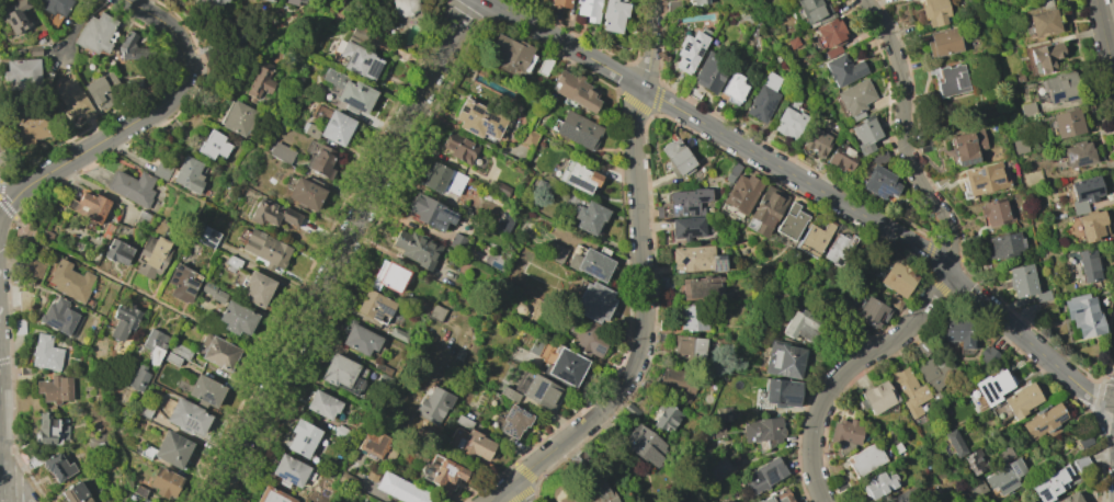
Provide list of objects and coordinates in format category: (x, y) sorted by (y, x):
building: (271, 0)
building: (302, 0)
building: (356, 0)
building: (902, 0)
building: (291, 1)
building: (697, 2)
building: (560, 3)
building: (208, 4)
building: (54, 5)
building: (403, 8)
building: (589, 10)
building: (814, 10)
building: (934, 12)
building: (613, 14)
building: (16, 15)
building: (1043, 22)
road: (78, 28)
building: (95, 33)
building: (828, 33)
road: (1088, 33)
road: (1103, 38)
building: (943, 42)
building: (793, 43)
rooftop solar panel: (695, 44)
road: (1089, 44)
rooftop solar panel: (683, 47)
building: (132, 48)
building: (32, 50)
building: (689, 52)
building: (832, 52)
rooftop solar panel: (698, 53)
building: (508, 54)
building: (1045, 56)
rooftop solar panel: (353, 58)
rooftop solar panel: (682, 58)
building: (359, 60)
rooftop solar panel: (366, 62)
building: (543, 66)
rooftop solar panel: (685, 67)
building: (843, 69)
rooftop solar panel: (374, 70)
building: (22, 71)
building: (711, 71)
building: (952, 80)
road: (1113, 80)
building: (260, 81)
building: (1060, 88)
building: (732, 89)
building: (101, 90)
building: (576, 90)
building: (349, 91)
road: (172, 95)
rooftop solar panel: (1054, 95)
road: (1102, 96)
building: (763, 98)
rooftop solar panel: (1070, 98)
building: (855, 99)
road: (1090, 100)
building: (72, 101)
rooftop solar panel: (351, 103)
rooftop solar panel: (476, 109)
rooftop solar panel: (464, 110)
building: (1026, 110)
building: (237, 117)
rooftop solar panel: (469, 117)
rooftop solar panel: (490, 117)
building: (478, 119)
building: (789, 122)
building: (1066, 123)
building: (32, 127)
building: (330, 128)
rooftop solar panel: (497, 128)
rooftop solar panel: (487, 129)
building: (577, 129)
road: (1105, 130)
rooftop solar panel: (471, 132)
road: (717, 132)
building: (864, 135)
road: (903, 135)
building: (528, 137)
building: (815, 142)
building: (213, 145)
building: (458, 147)
building: (967, 147)
building: (281, 152)
building: (1077, 153)
building: (677, 158)
building: (841, 158)
building: (320, 161)
rooftop solar panel: (968, 163)
road: (1110, 164)
building: (734, 169)
building: (161, 170)
rooftop solar panel: (979, 172)
building: (189, 174)
building: (578, 176)
building: (985, 179)
building: (443, 180)
rooftop solar panel: (998, 180)
building: (878, 182)
road: (30, 185)
rooftop solar panel: (577, 185)
rooftop solar panel: (975, 186)
building: (132, 187)
road: (11, 190)
building: (305, 193)
building: (1083, 194)
building: (740, 195)
road: (49, 198)
building: (684, 203)
road: (3, 204)
building: (89, 207)
building: (430, 212)
building: (765, 212)
building: (994, 212)
building: (273, 214)
building: (589, 217)
road: (18, 219)
building: (143, 219)
rooftop solar panel: (452, 221)
building: (791, 221)
building: (1090, 225)
rooftop solar panel: (440, 227)
building: (686, 228)
building: (48, 236)
rooftop solar panel: (213, 237)
building: (207, 238)
building: (814, 238)
rooftop solar panel: (212, 240)
building: (456, 241)
road: (35, 242)
building: (1002, 246)
rooftop solar panel: (206, 247)
building: (417, 248)
building: (266, 249)
building: (839, 249)
building: (116, 251)
road: (342, 251)
building: (151, 255)
building: (696, 259)
building: (232, 262)
building: (594, 263)
road: (18, 264)
building: (1089, 264)
rooftop solar panel: (719, 266)
building: (34, 270)
building: (389, 276)
building: (897, 278)
building: (70, 281)
building: (181, 283)
building: (1024, 283)
rooftop solar panel: (191, 284)
road: (644, 284)
building: (255, 288)
building: (700, 288)
rooftop solar panel: (190, 292)
building: (213, 292)
building: (25, 300)
building: (594, 301)
building: (374, 306)
rooftop solar panel: (384, 310)
building: (1047, 311)
building: (436, 312)
building: (872, 312)
rooftop solar panel: (377, 315)
building: (1082, 315)
building: (58, 316)
building: (693, 317)
building: (237, 318)
building: (123, 321)
building: (804, 326)
building: (19, 328)
road: (1109, 328)
building: (957, 331)
building: (398, 334)
building: (360, 340)
building: (589, 340)
road: (1027, 340)
building: (155, 344)
building: (687, 349)
building: (921, 349)
building: (180, 351)
building: (218, 352)
building: (46, 353)
building: (987, 355)
road: (270, 357)
building: (172, 358)
building: (782, 360)
building: (565, 366)
building: (383, 369)
road: (846, 369)
building: (935, 372)
building: (343, 374)
building: (138, 377)
building: (677, 380)
road: (1107, 380)
building: (991, 386)
road: (1099, 388)
building: (54, 389)
rooftop solar panel: (539, 390)
building: (908, 390)
building: (204, 391)
building: (541, 391)
building: (508, 393)
building: (777, 393)
building: (876, 397)
rooftop solar panel: (206, 400)
rooftop solar panel: (789, 401)
building: (1014, 403)
building: (322, 404)
building: (433, 406)
building: (145, 409)
building: (725, 414)
building: (186, 417)
rooftop solar panel: (521, 417)
building: (666, 419)
rooftop solar panel: (1059, 419)
building: (1042, 420)
building: (513, 421)
rooftop solar panel: (507, 426)
building: (49, 430)
building: (762, 430)
rooftop solar panel: (1038, 430)
building: (343, 433)
rooftop solar panel: (511, 435)
building: (844, 435)
building: (302, 437)
rooftop solar panel: (304, 440)
building: (468, 440)
building: (1083, 441)
building: (98, 442)
building: (955, 443)
building: (373, 445)
building: (644, 445)
building: (895, 448)
building: (168, 449)
building: (1004, 455)
building: (865, 459)
building: (975, 461)
building: (1080, 463)
building: (49, 464)
building: (716, 469)
building: (444, 470)
building: (288, 471)
building: (371, 475)
building: (762, 476)
building: (1004, 477)
rooftop solar panel: (287, 478)
building: (344, 479)
rooftop solar panel: (771, 480)
building: (163, 481)
building: (879, 482)
building: (1049, 483)
building: (978, 487)
building: (400, 489)
road: (519, 492)
building: (75, 493)
building: (596, 494)
building: (271, 495)
building: (902, 495)
building: (777, 497)
building: (1069, 498)
road: (3, 500)
building: (374, 501)
road: (822, 501)

